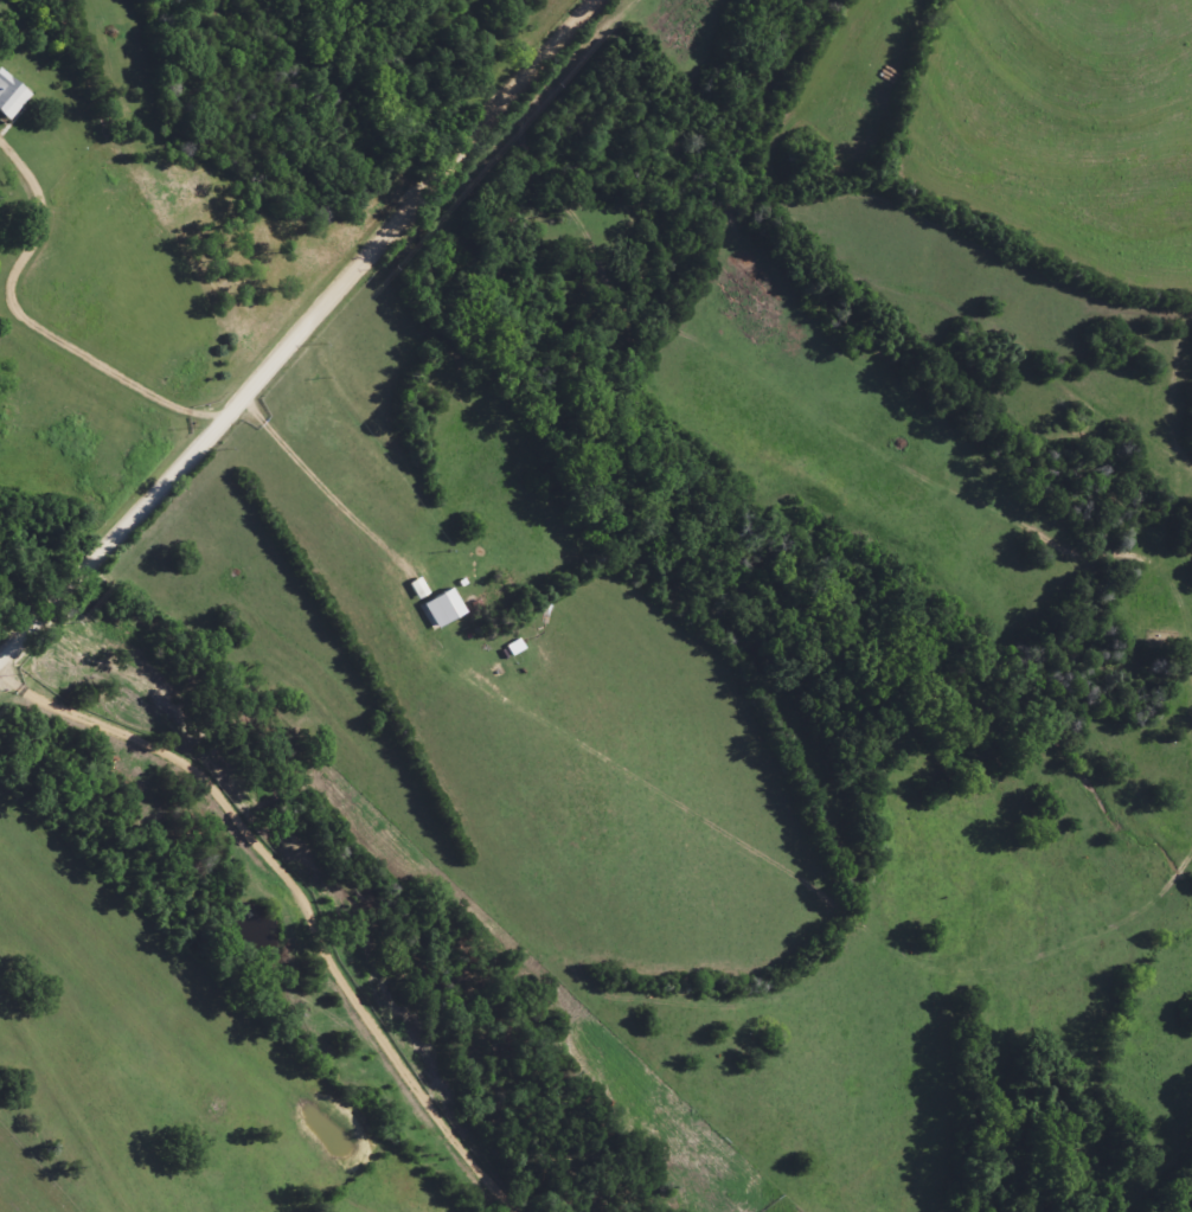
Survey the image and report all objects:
building: (6, 97)
road: (302, 335)
road: (55, 1124)

